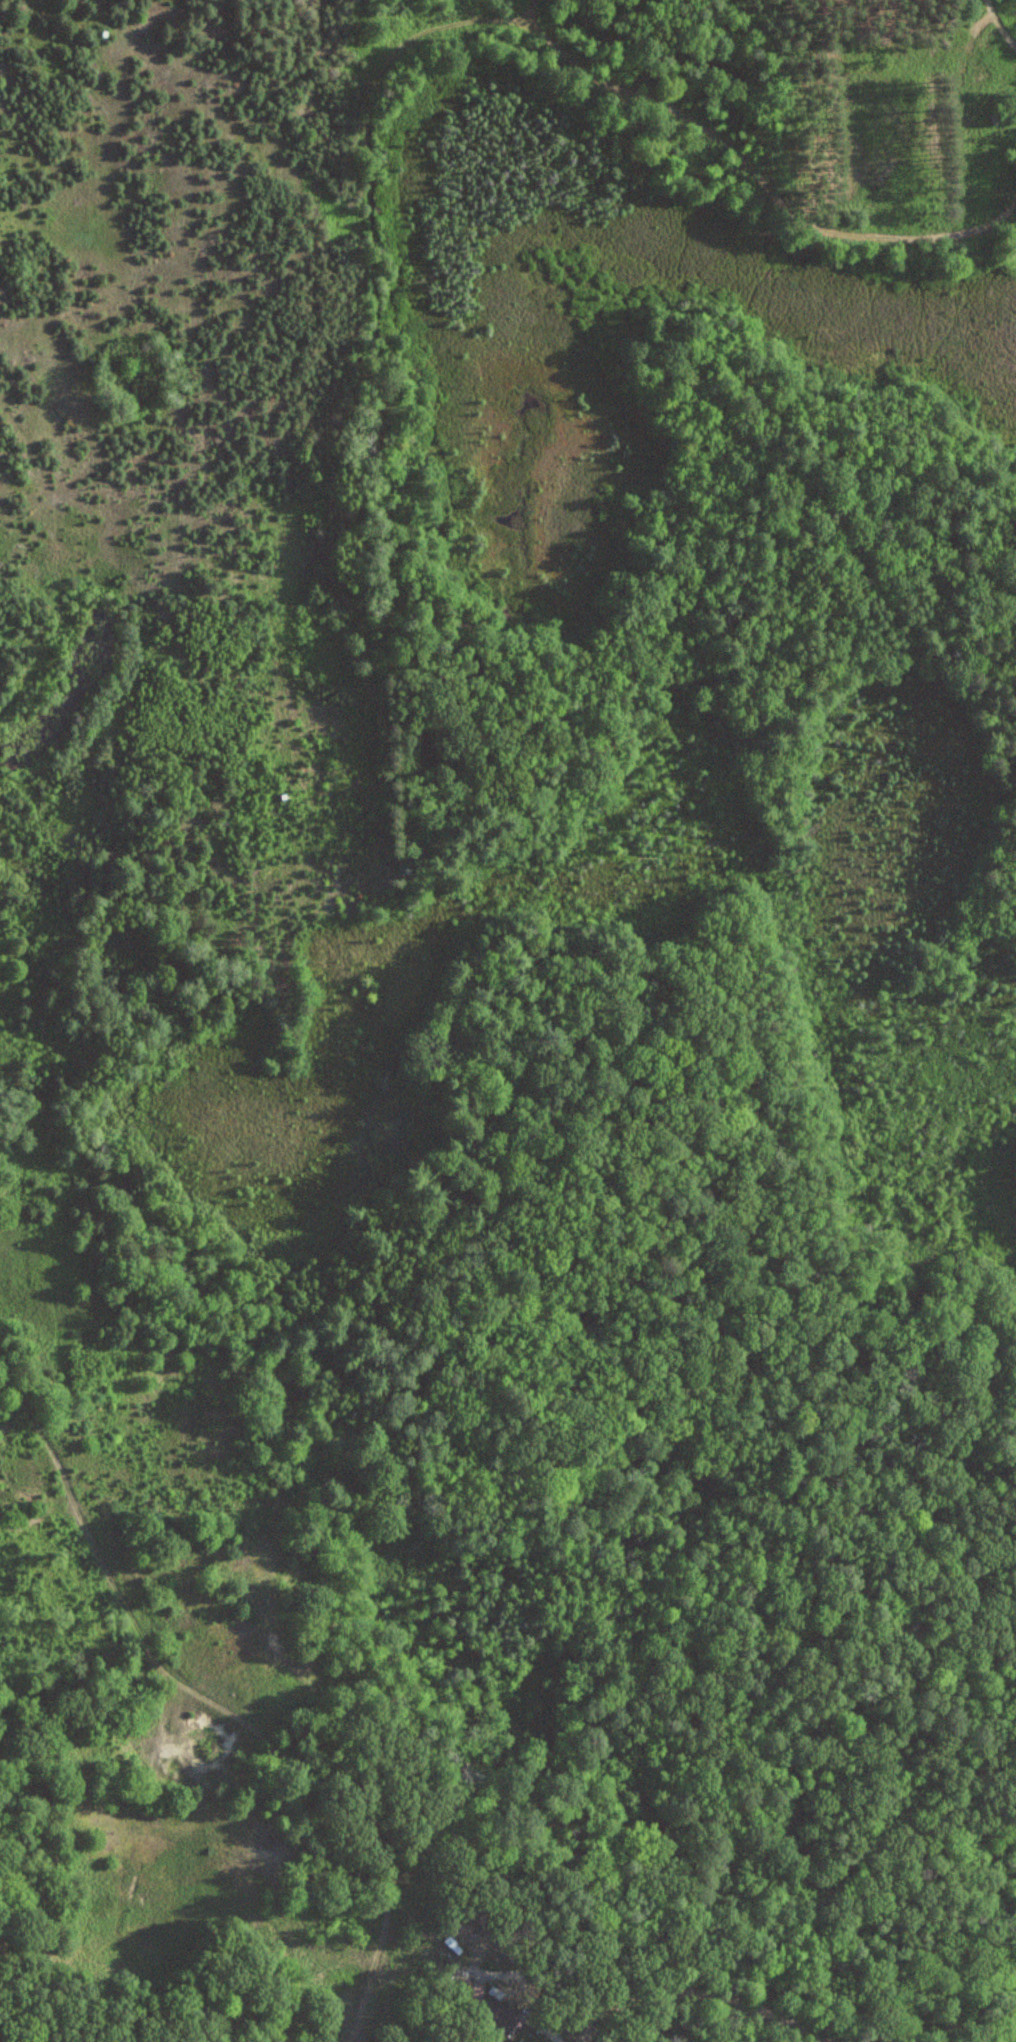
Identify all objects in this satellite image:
road: (696, 1995)
building: (471, 1996)
building: (503, 2021)

